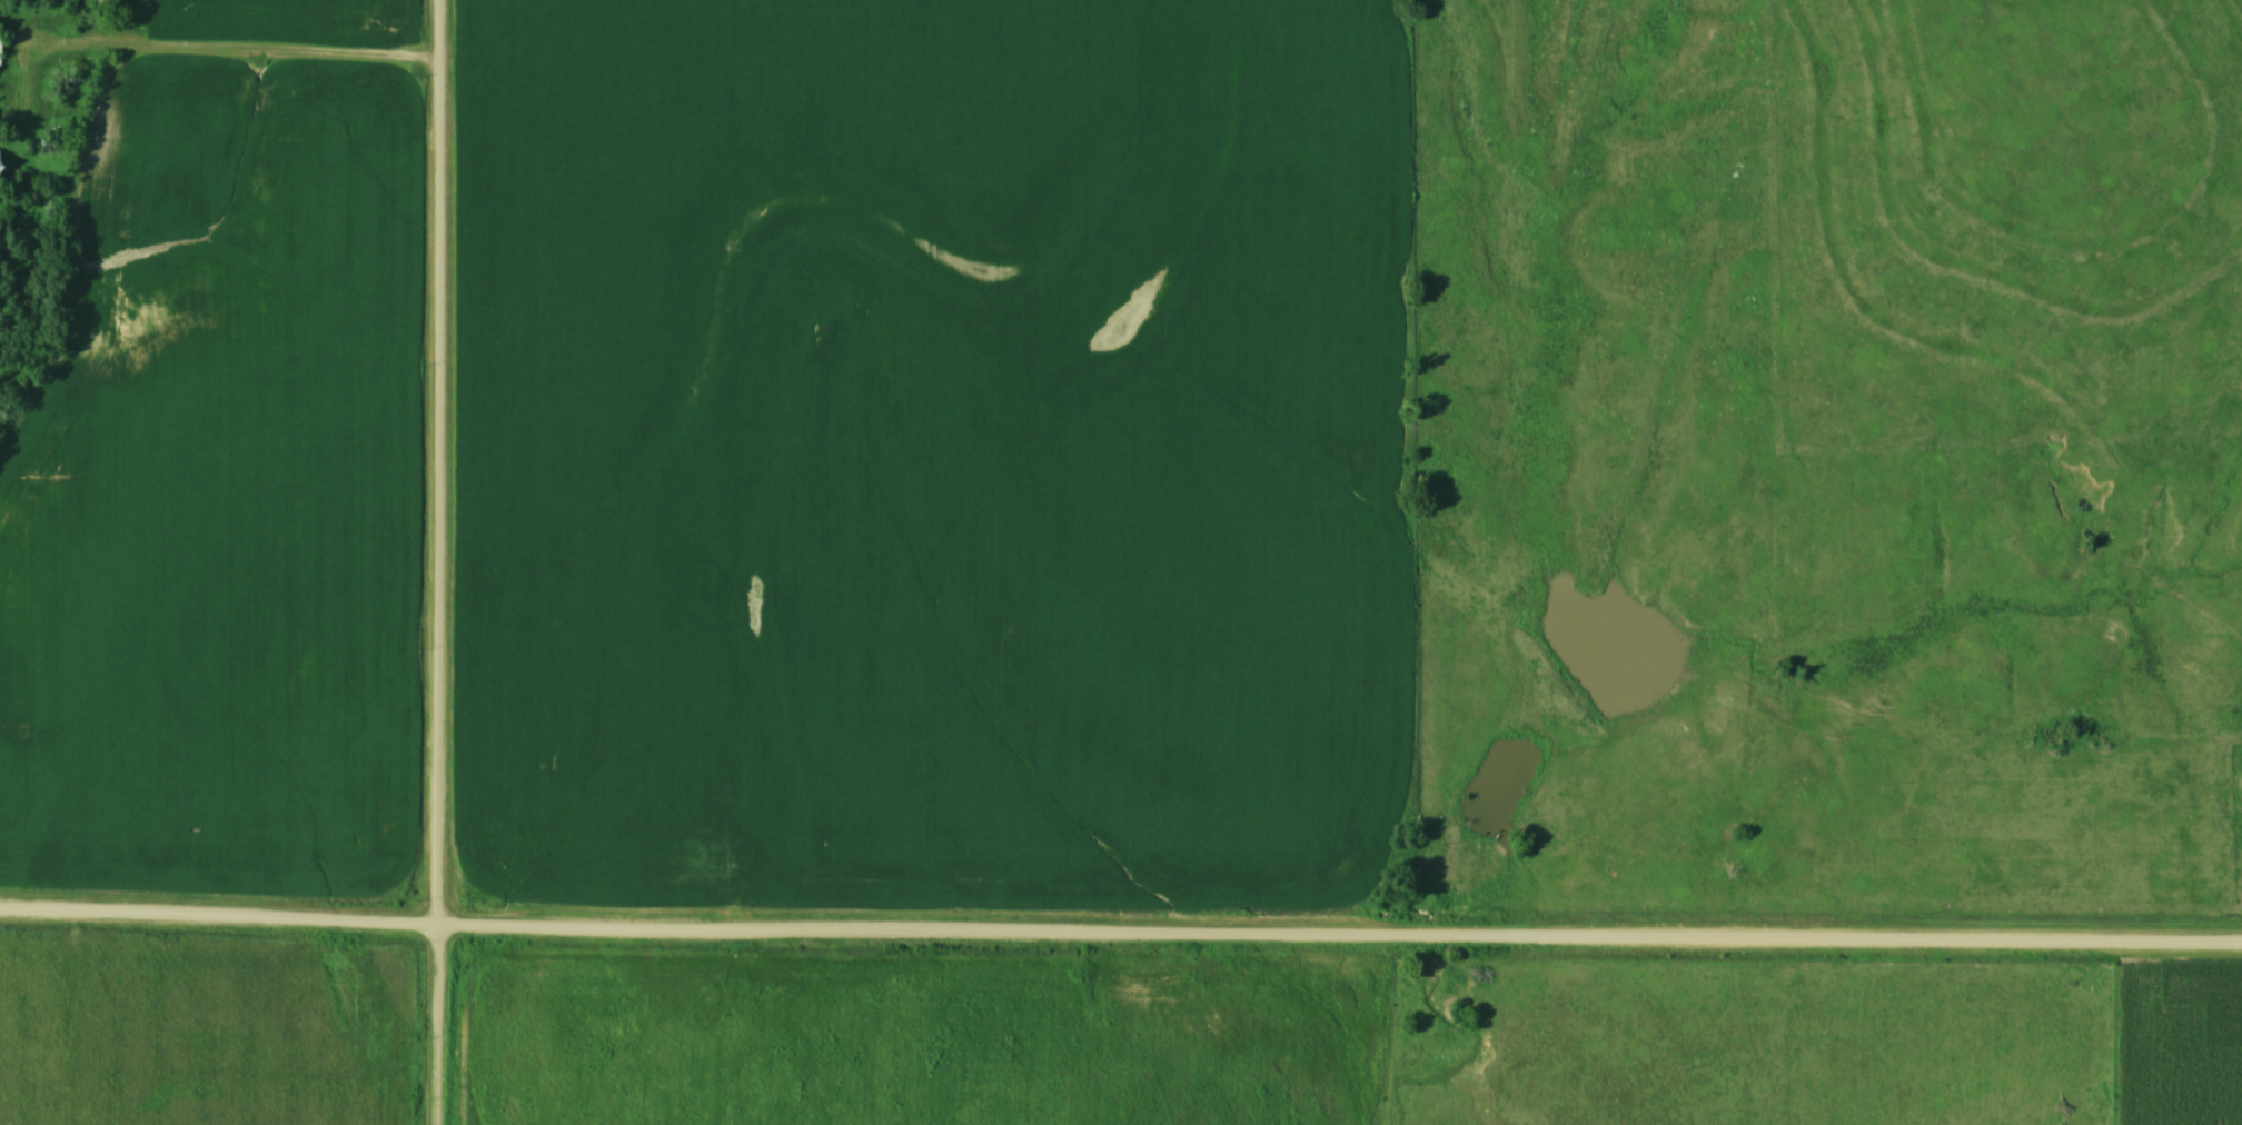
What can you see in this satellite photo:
building: (106, 2)
building: (0, 48)
road: (266, 50)
building: (0, 155)
road: (434, 562)
road: (1120, 932)

